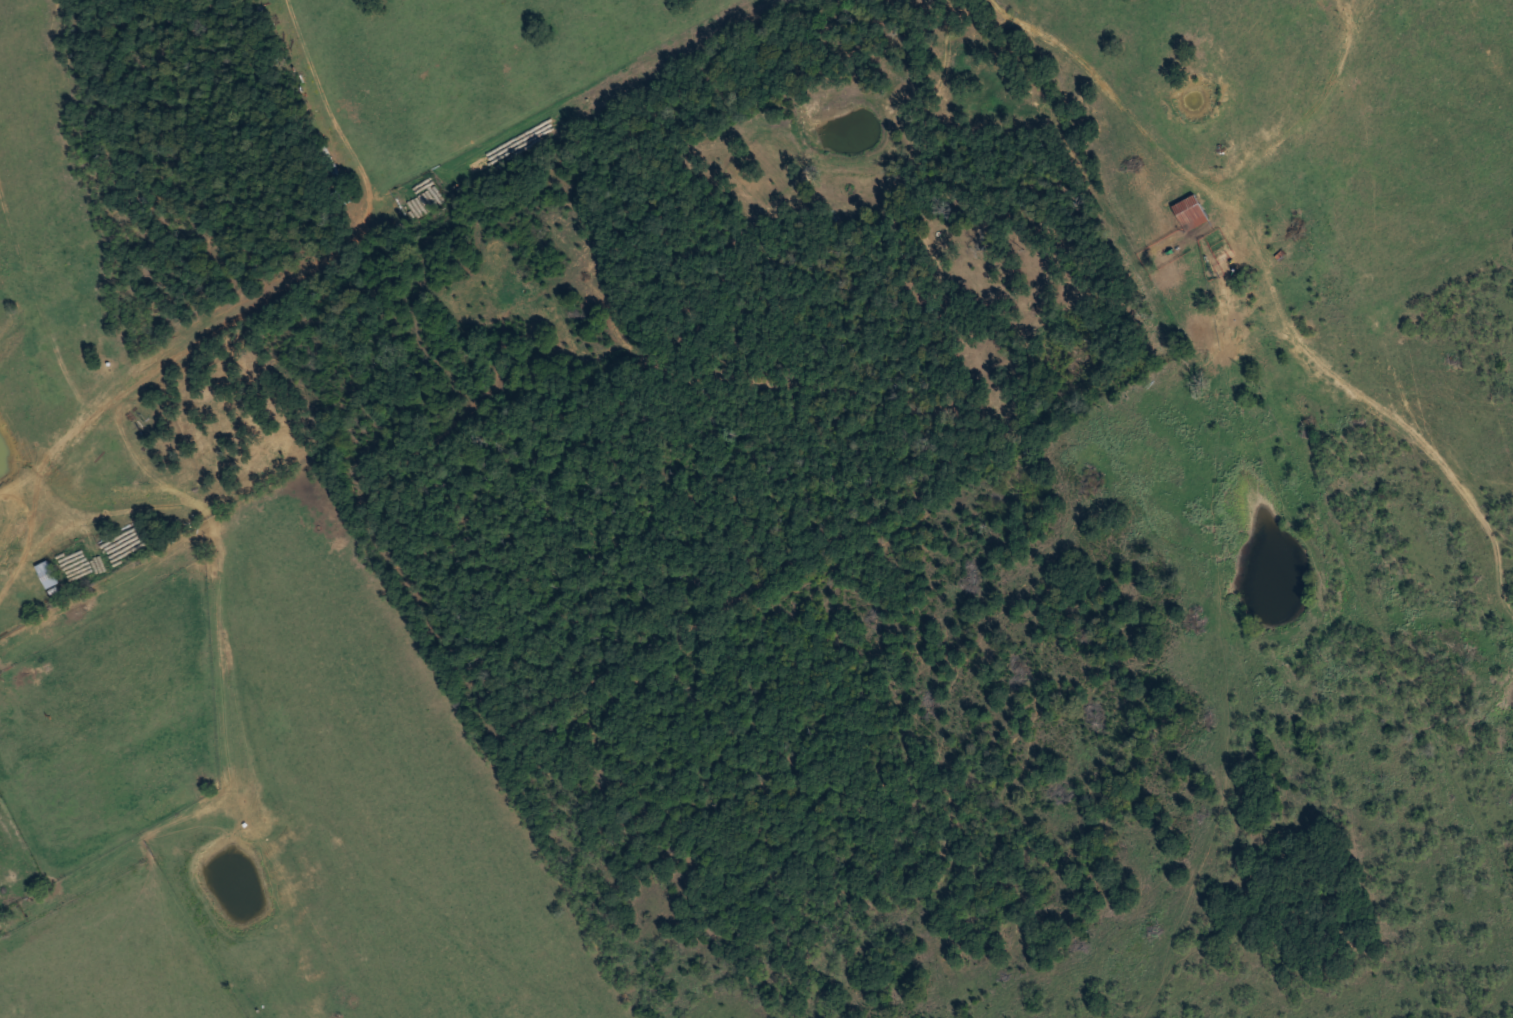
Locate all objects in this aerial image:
building: (1191, 211)
road: (1246, 238)
building: (1283, 380)
building: (46, 573)

